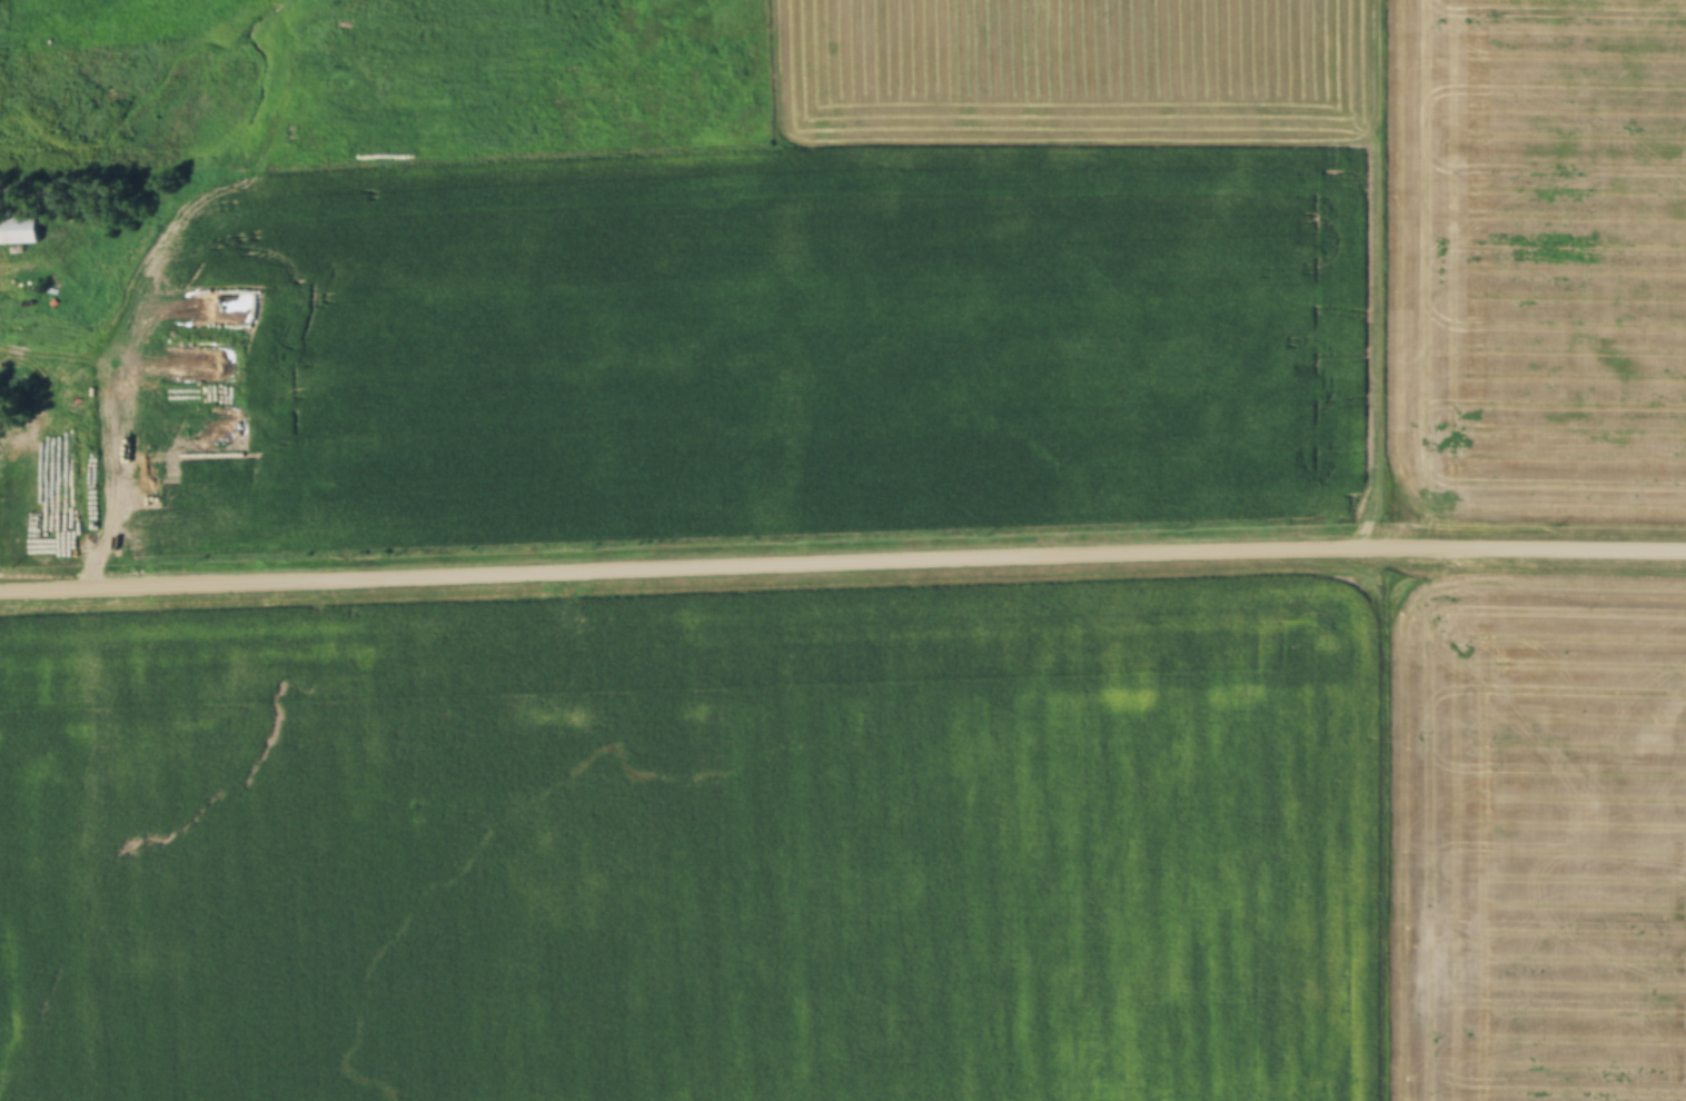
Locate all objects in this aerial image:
building: (19, 231)
road: (842, 569)

